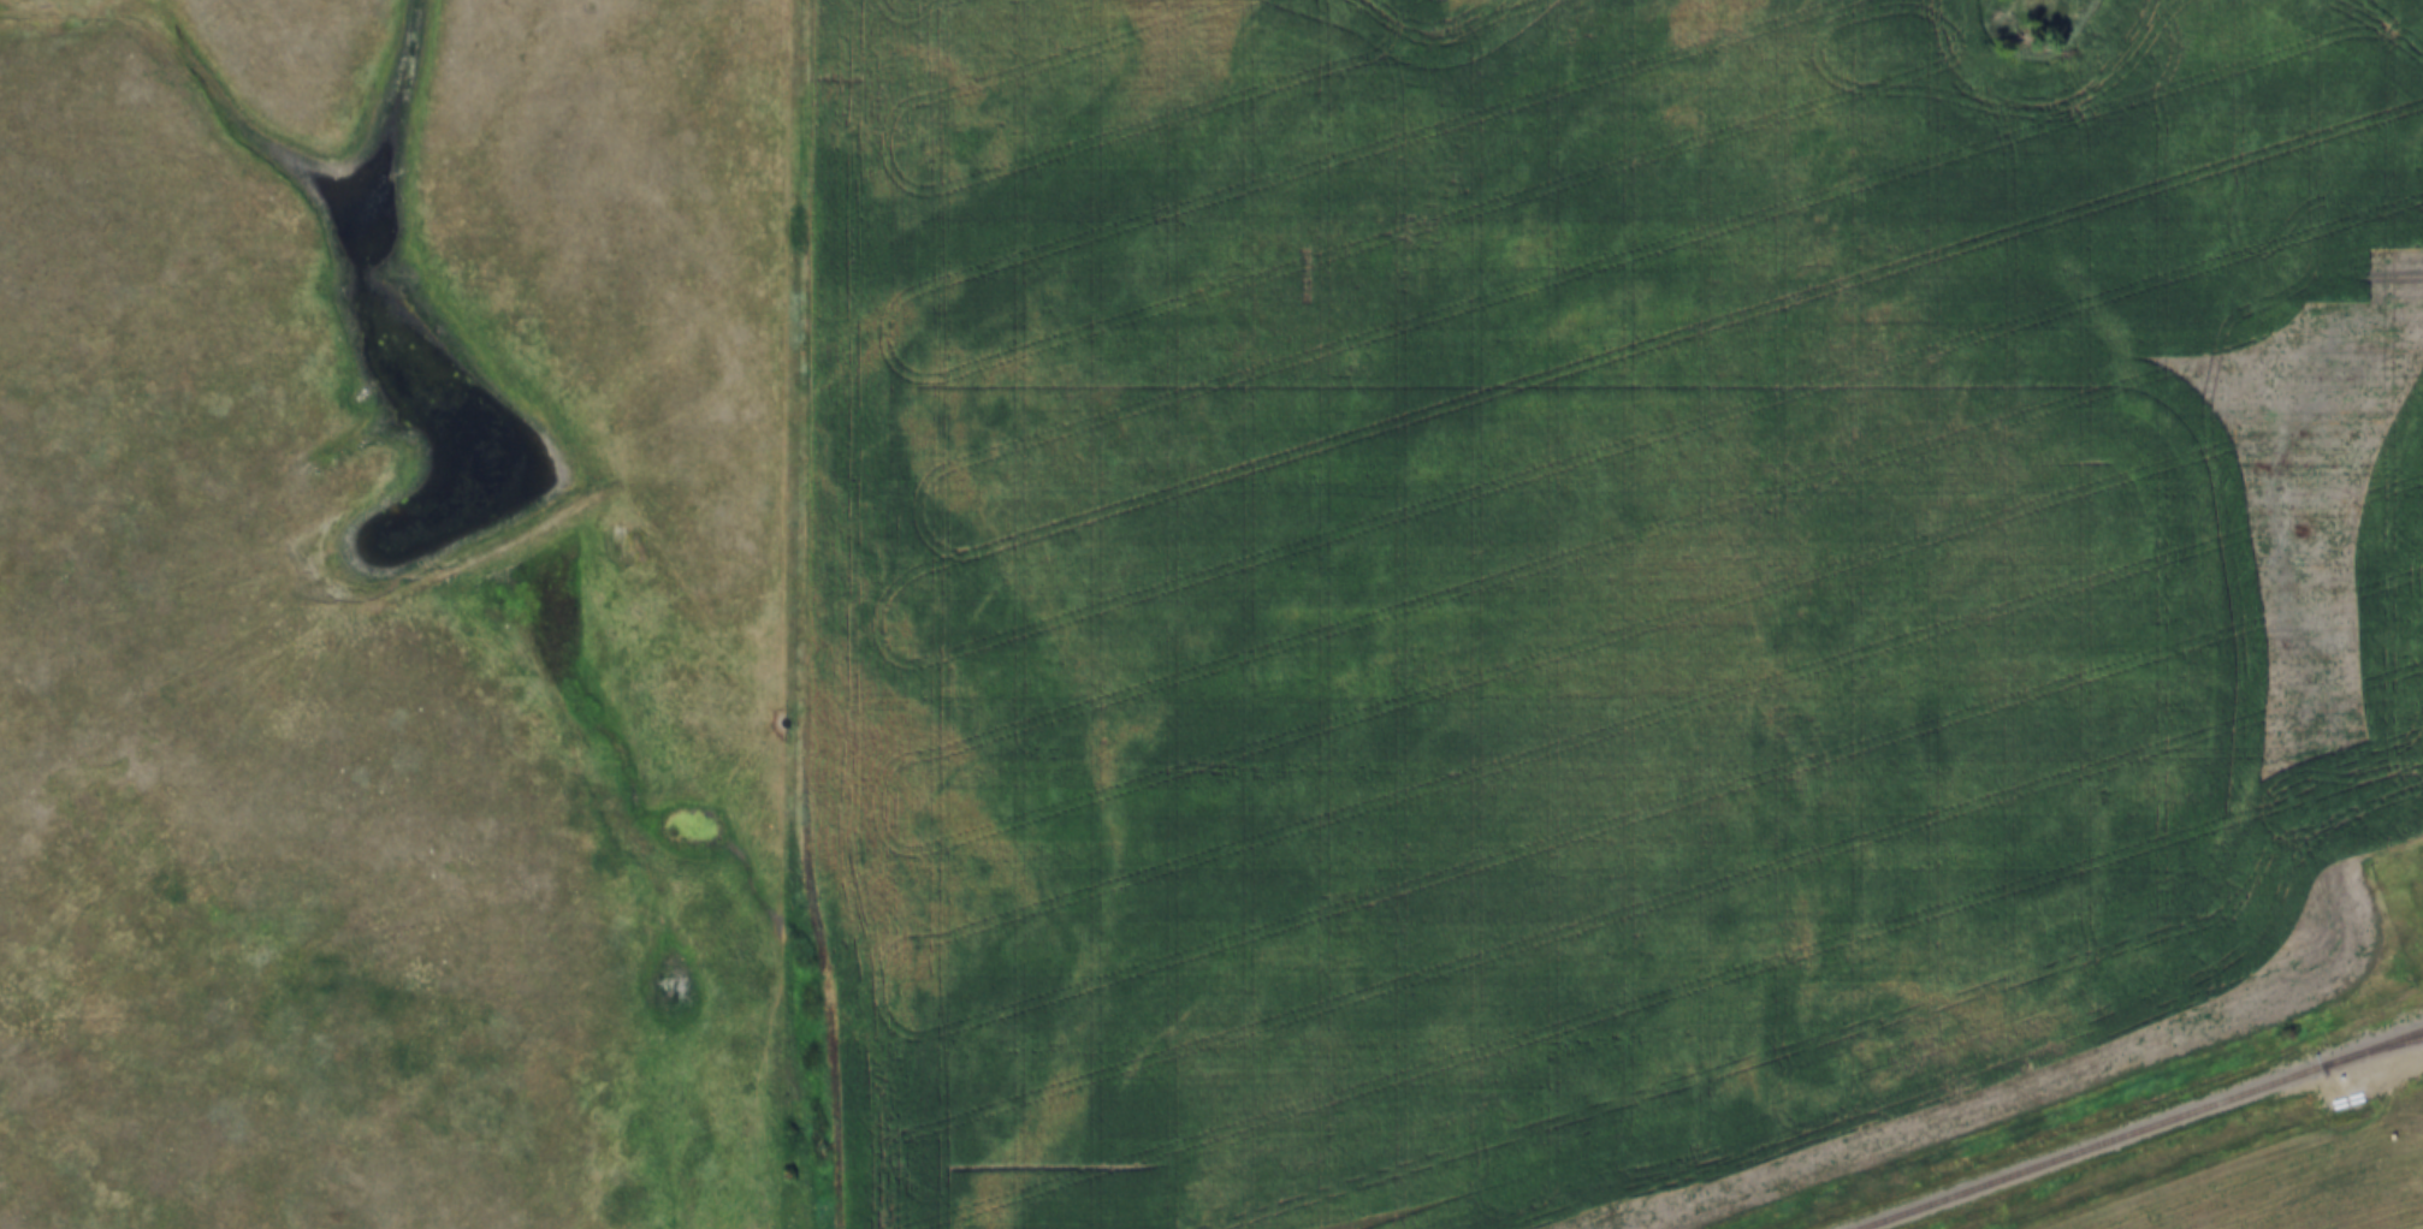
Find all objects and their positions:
railway: (2371, 1051)
road: (2398, 1055)
railway: (2138, 1129)

